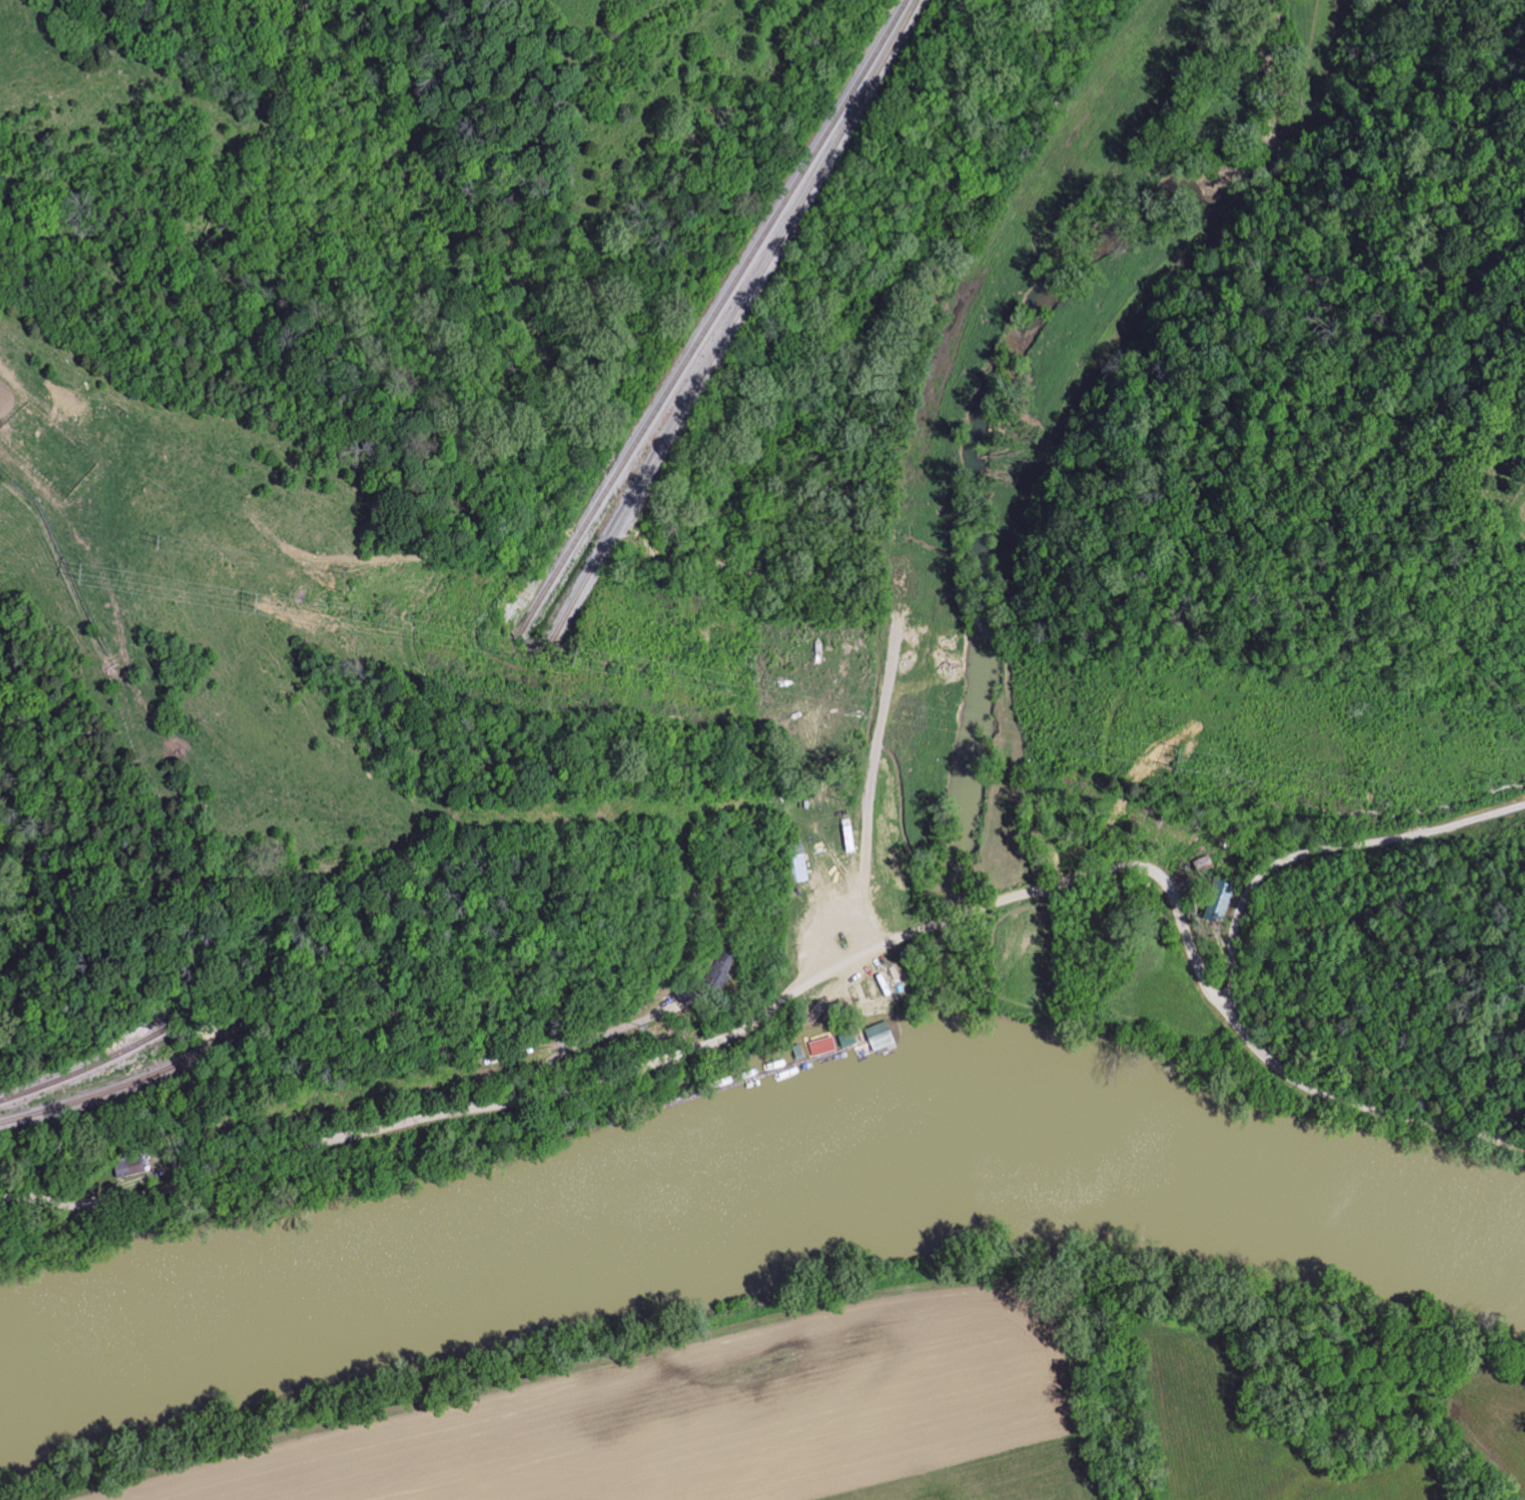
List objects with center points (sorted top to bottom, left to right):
railway: (705, 320)
railway: (727, 320)
power tower: (156, 539)
power tower: (337, 566)
power tower: (73, 569)
power tower: (334, 590)
power tower: (250, 600)
power tower: (613, 612)
power tower: (605, 637)
power tower: (563, 659)
power tower: (1165, 698)
power tower: (1165, 722)
power tower: (1493, 748)
power tower: (1172, 757)
power tower: (1486, 774)
road: (1319, 849)
building: (1218, 901)
road: (813, 979)
road: (586, 1046)
railway: (92, 1062)
pier: (771, 1078)
railway: (126, 1080)
river: (757, 1194)

